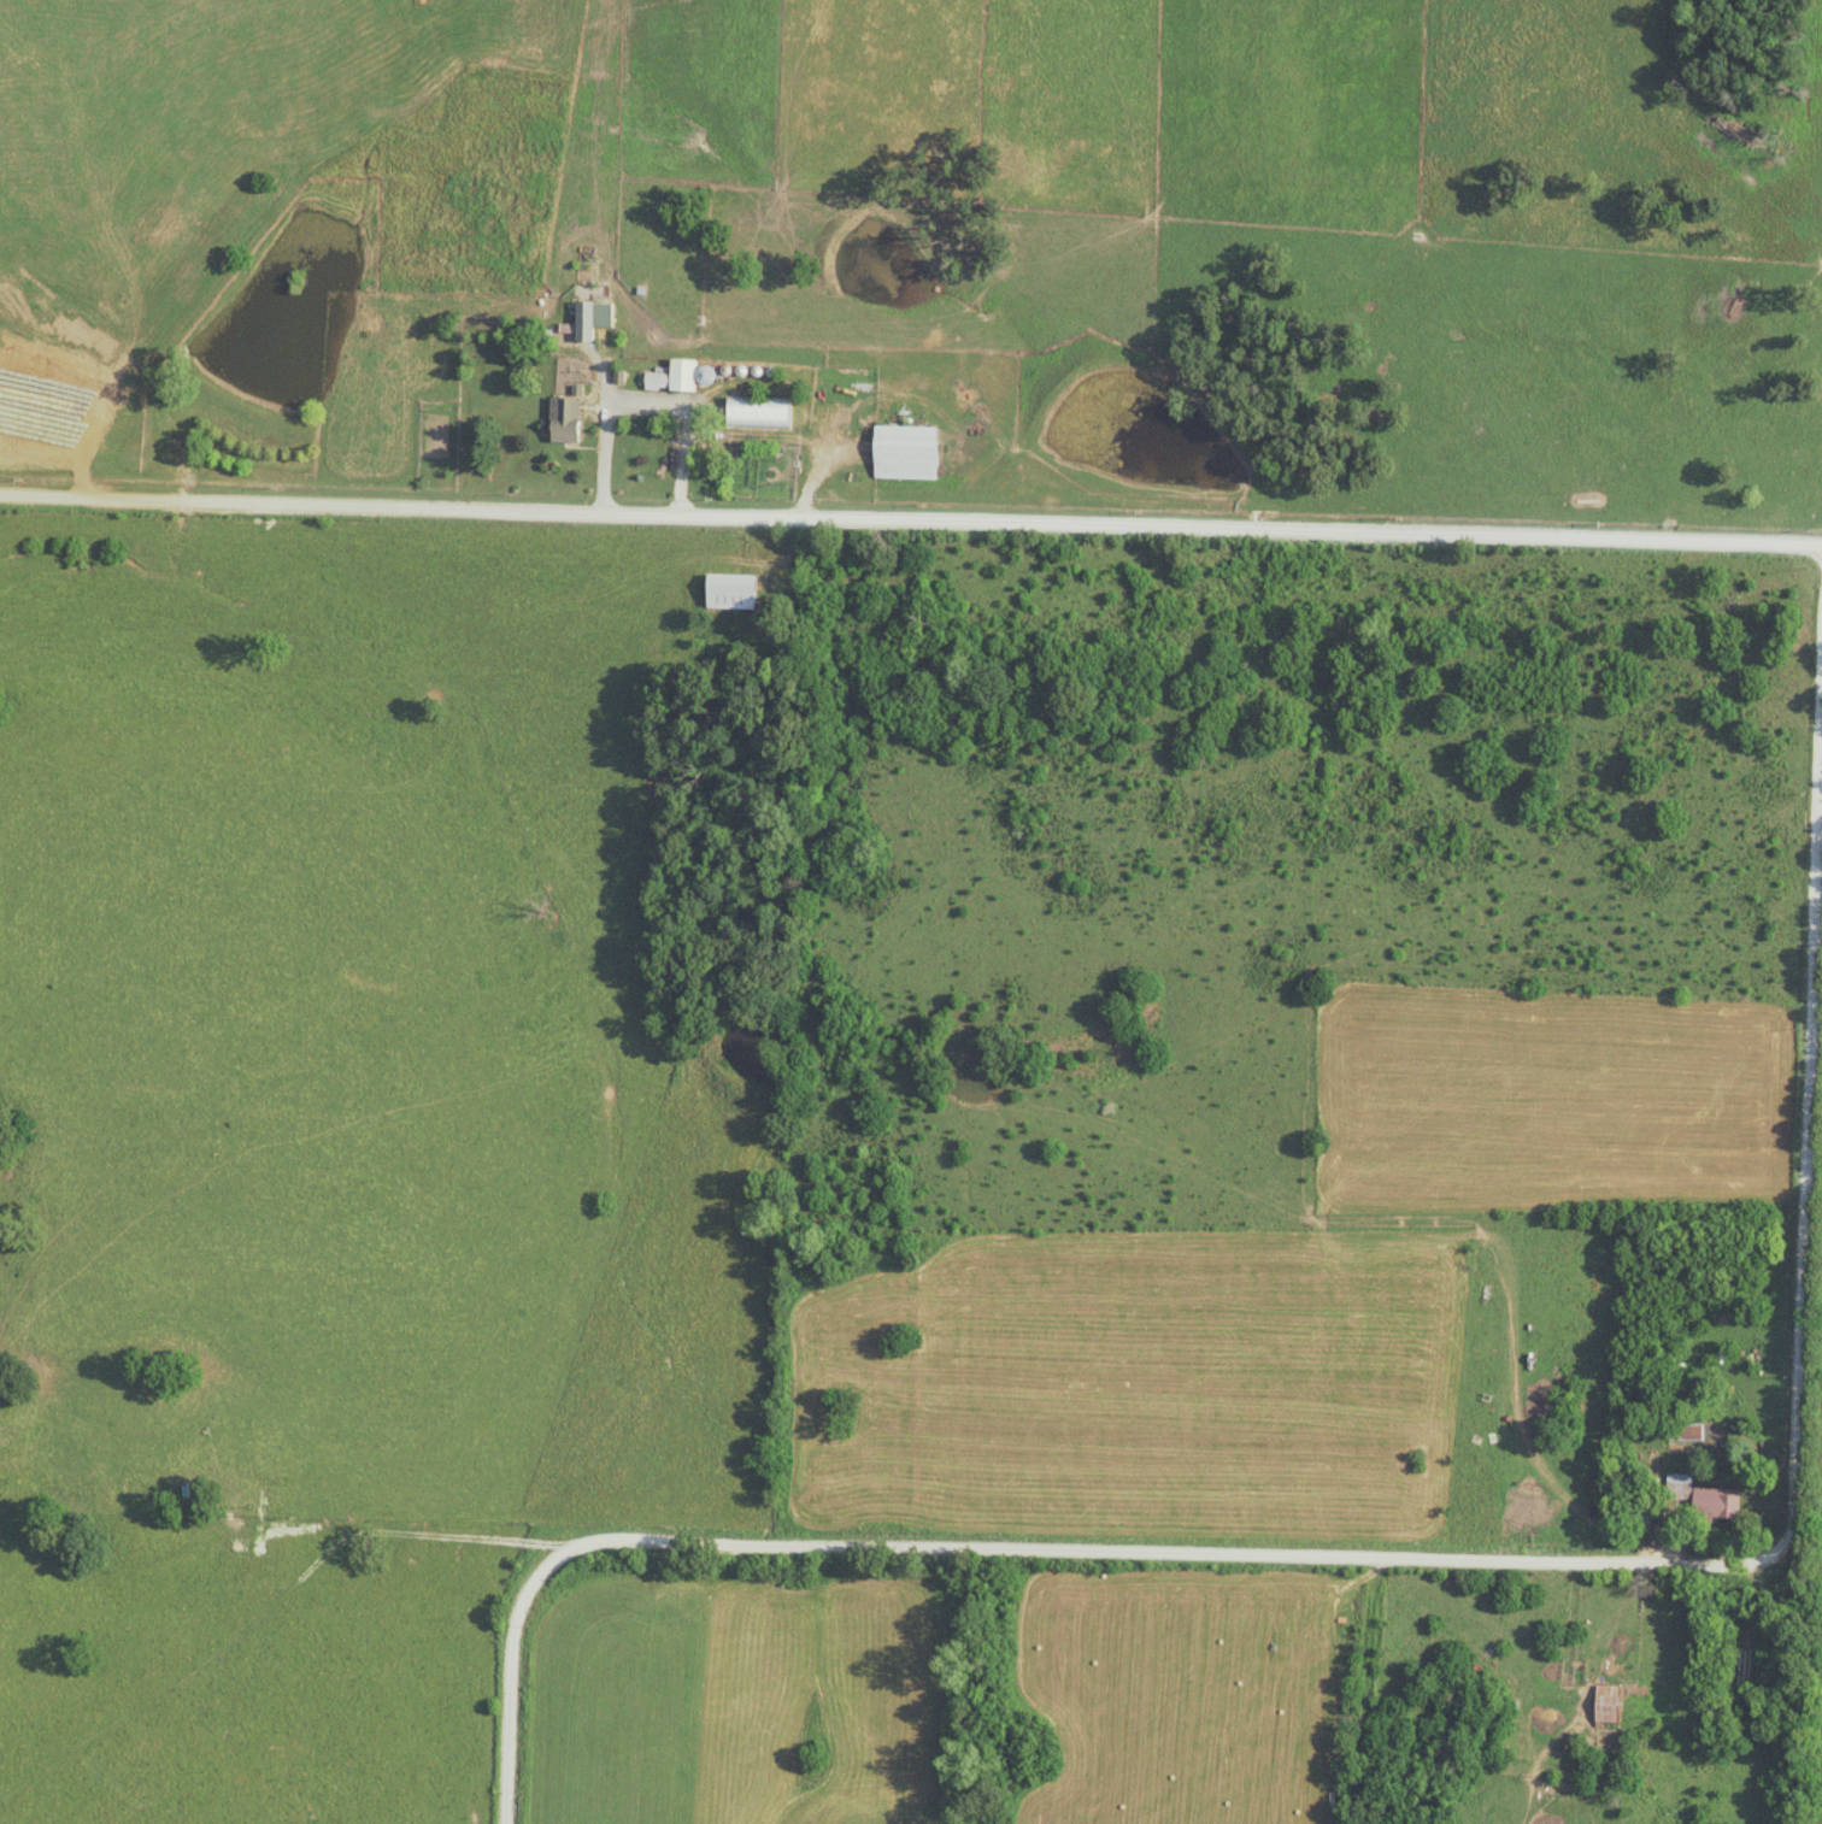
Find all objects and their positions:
building: (583, 319)
building: (675, 375)
road: (648, 406)
building: (759, 411)
building: (565, 418)
building: (906, 452)
road: (910, 523)
building: (730, 589)
building: (1705, 1499)
road: (1454, 1561)
road: (1609, 1637)
building: (1608, 1704)

